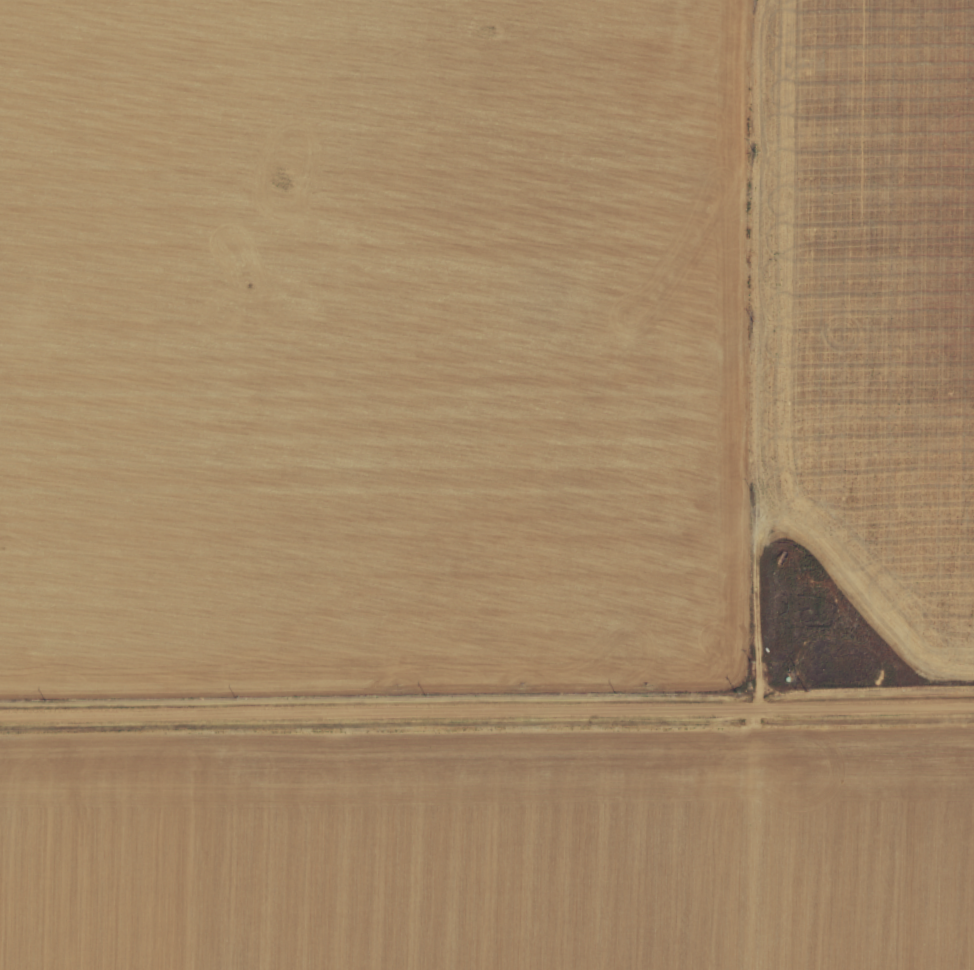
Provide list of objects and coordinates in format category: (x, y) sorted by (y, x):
road: (487, 713)

